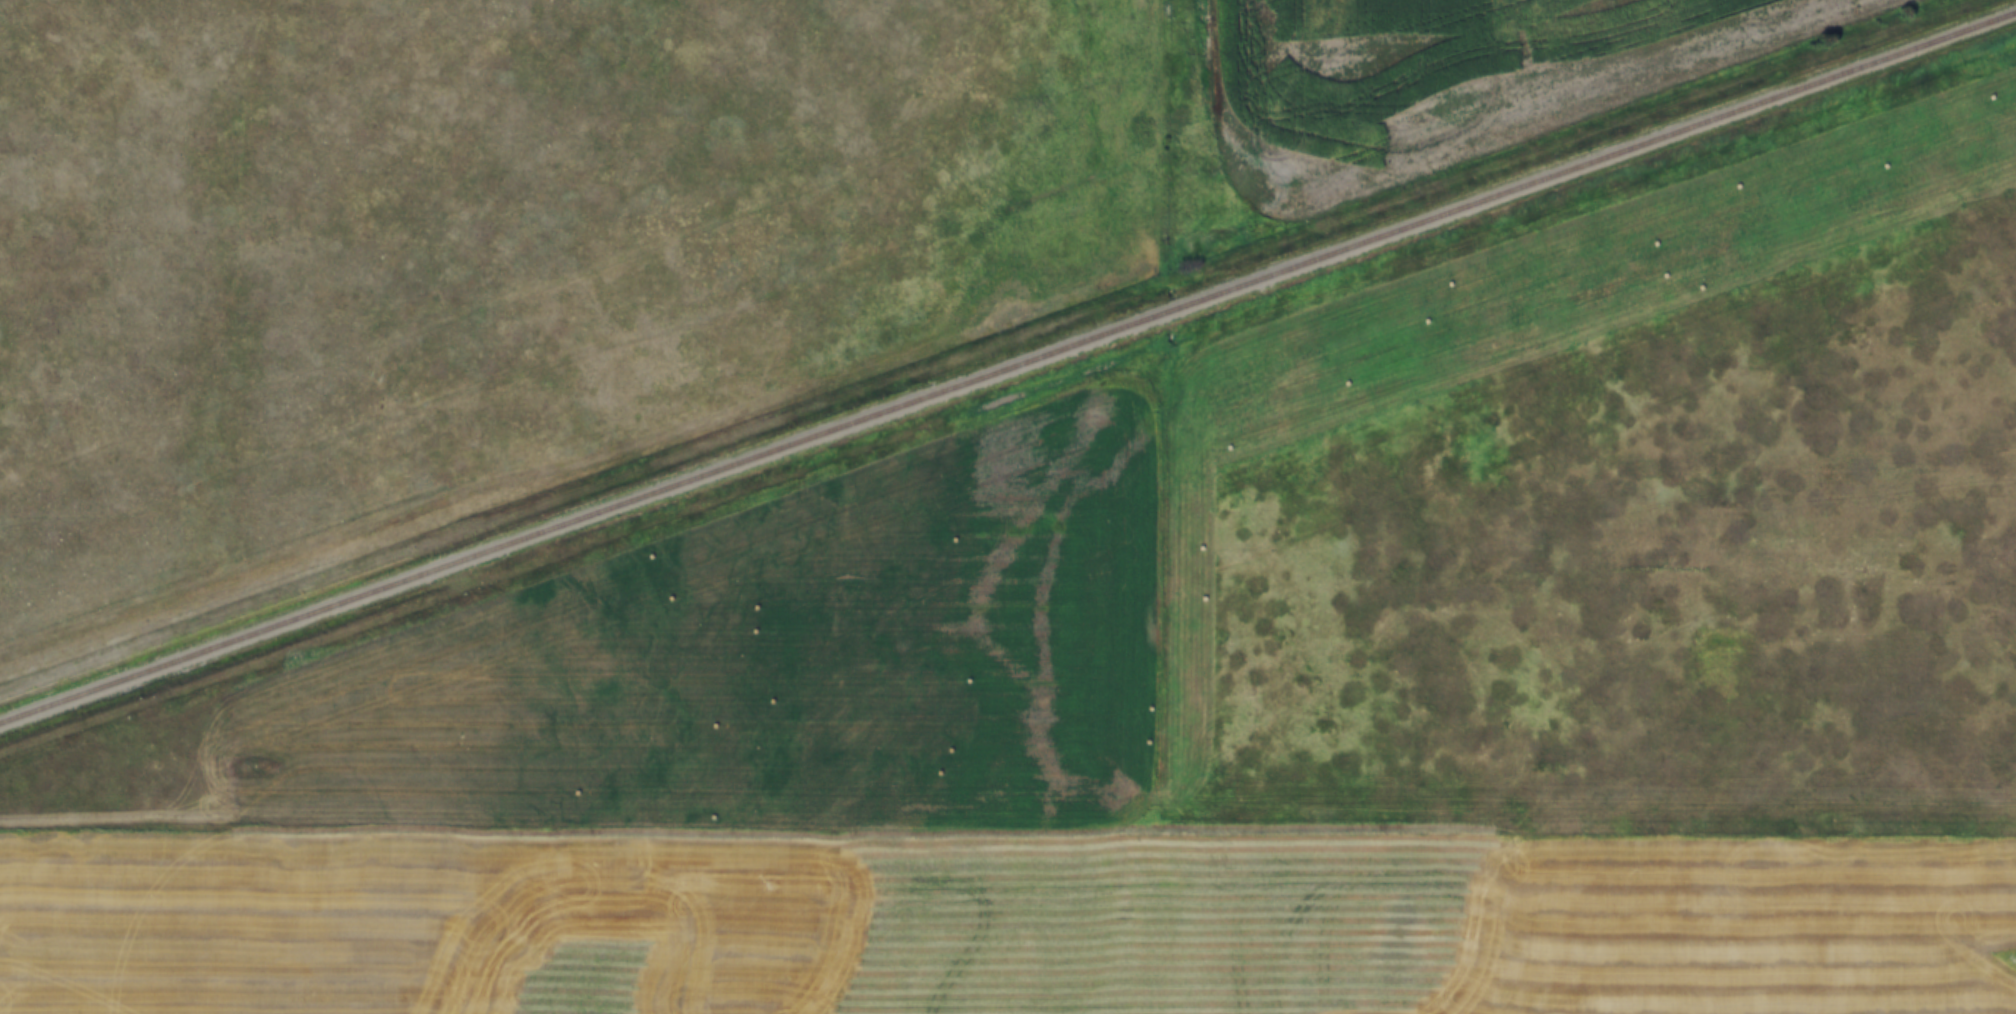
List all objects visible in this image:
railway: (1008, 367)
road: (82, 818)

